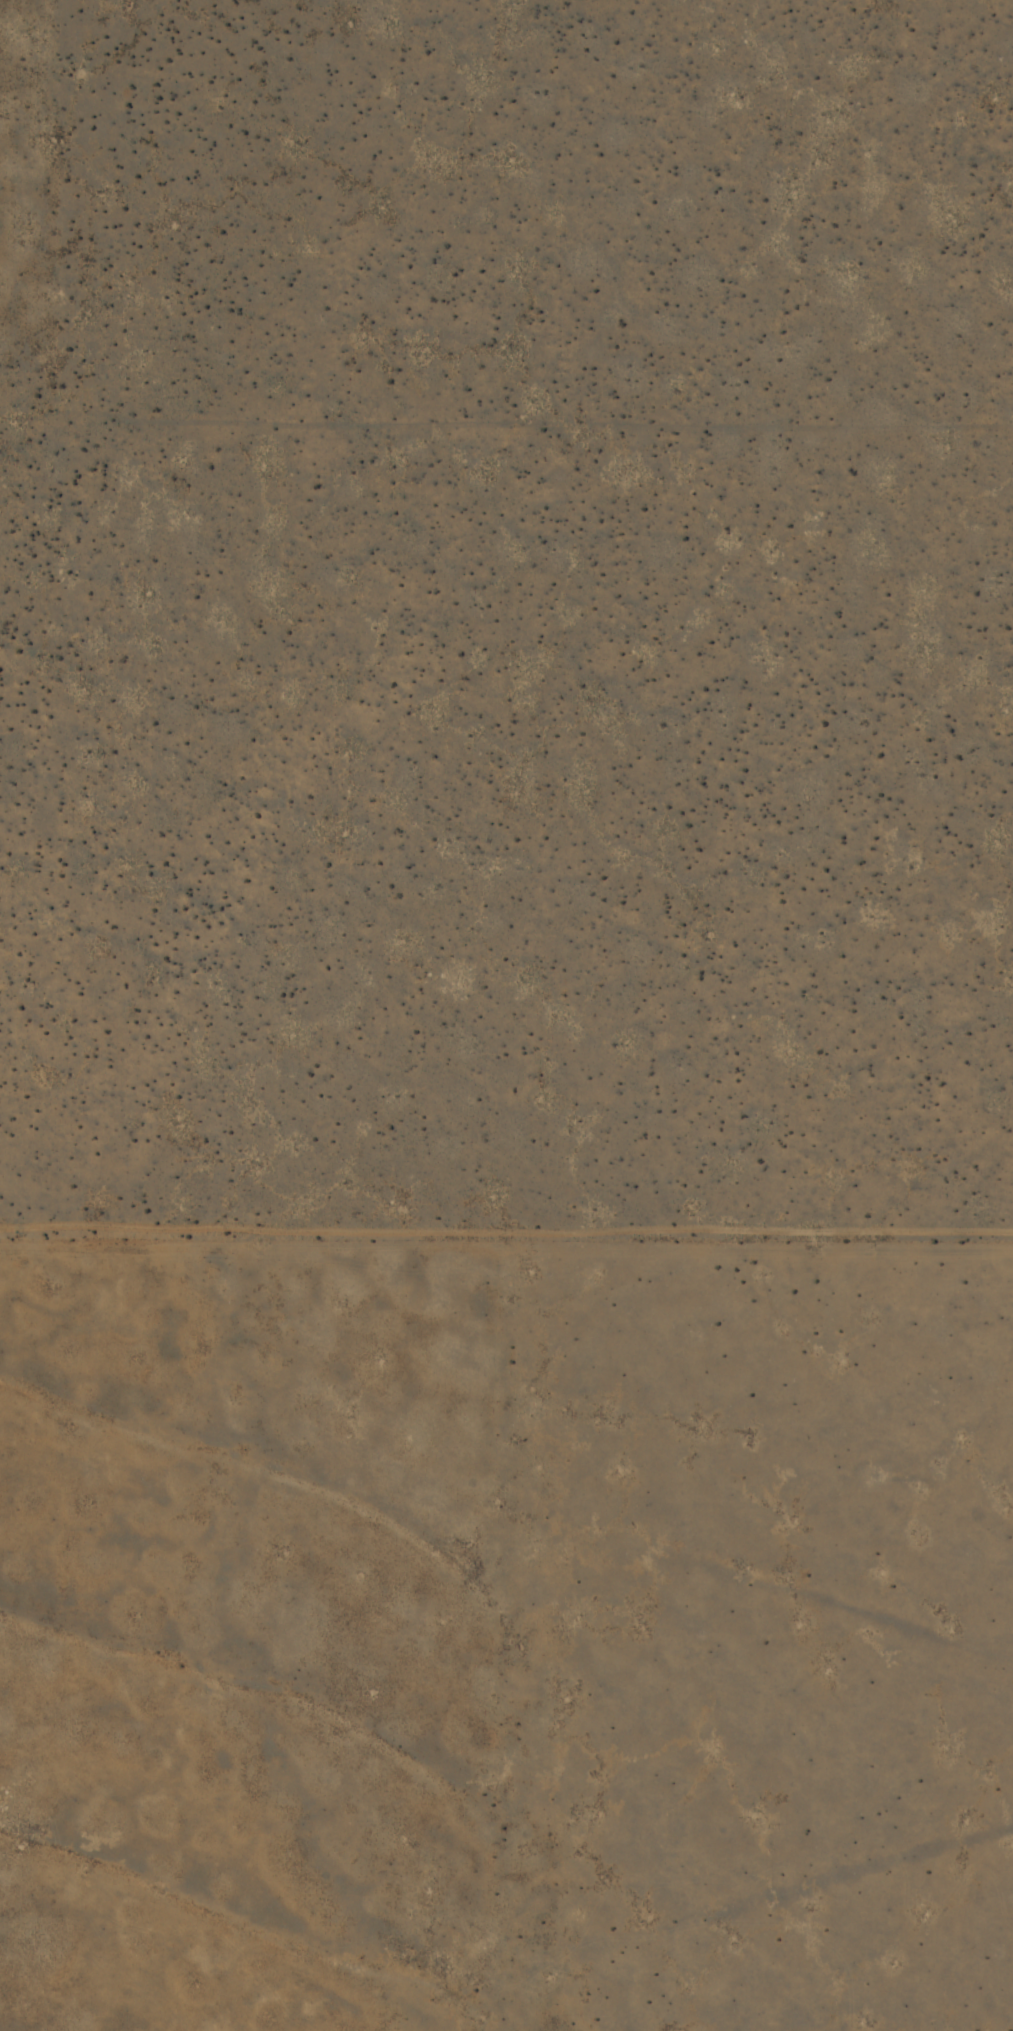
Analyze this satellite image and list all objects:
road: (506, 424)

